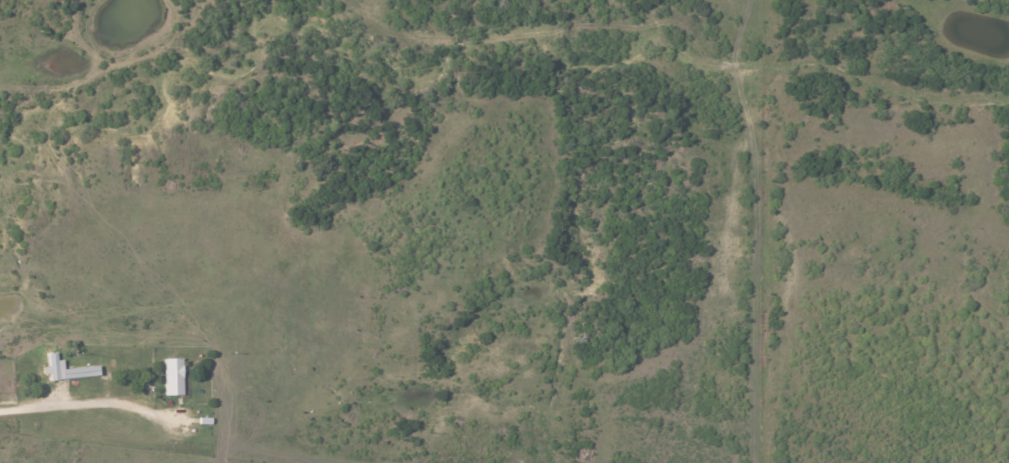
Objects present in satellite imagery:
building: (67, 369)
building: (173, 376)
road: (61, 398)

